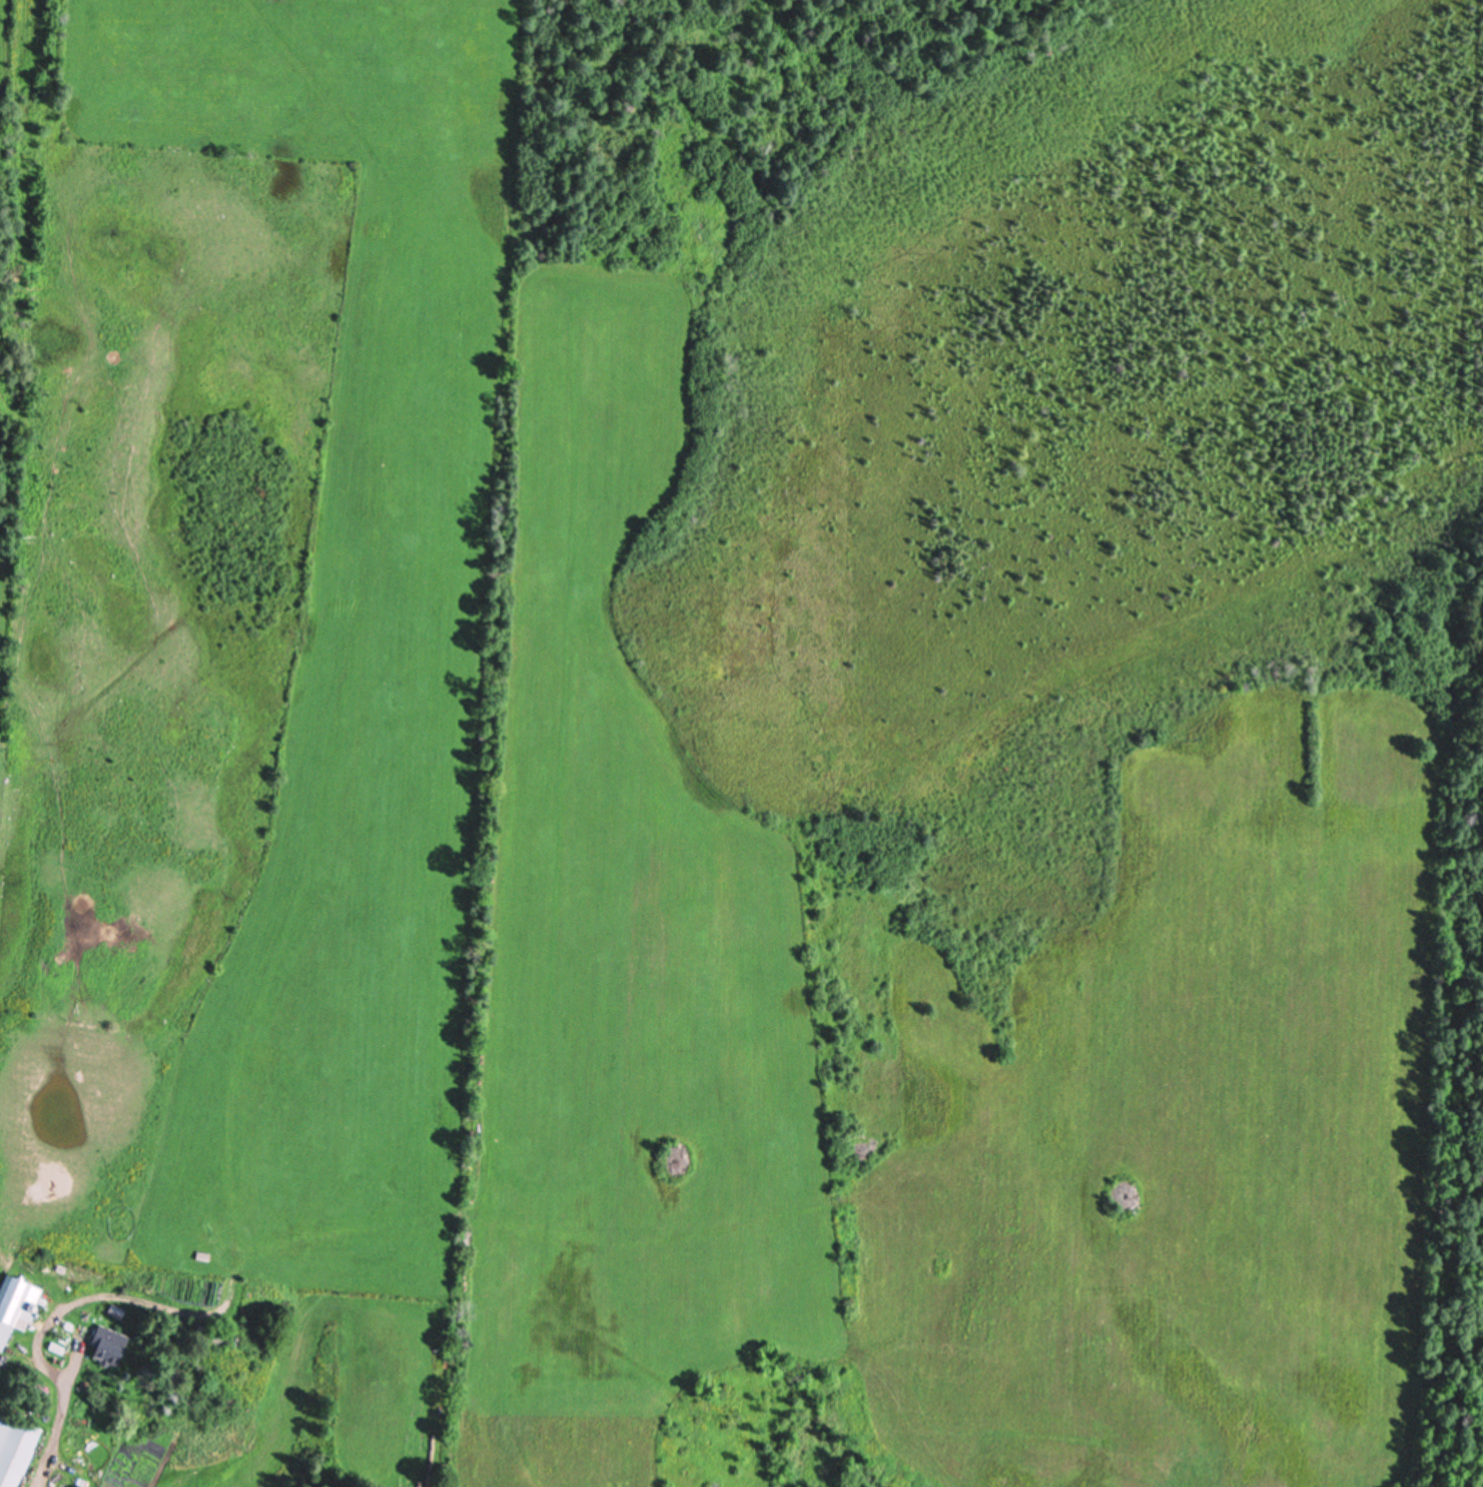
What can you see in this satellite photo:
building: (15, 1304)
building: (109, 1339)
building: (14, 1446)

